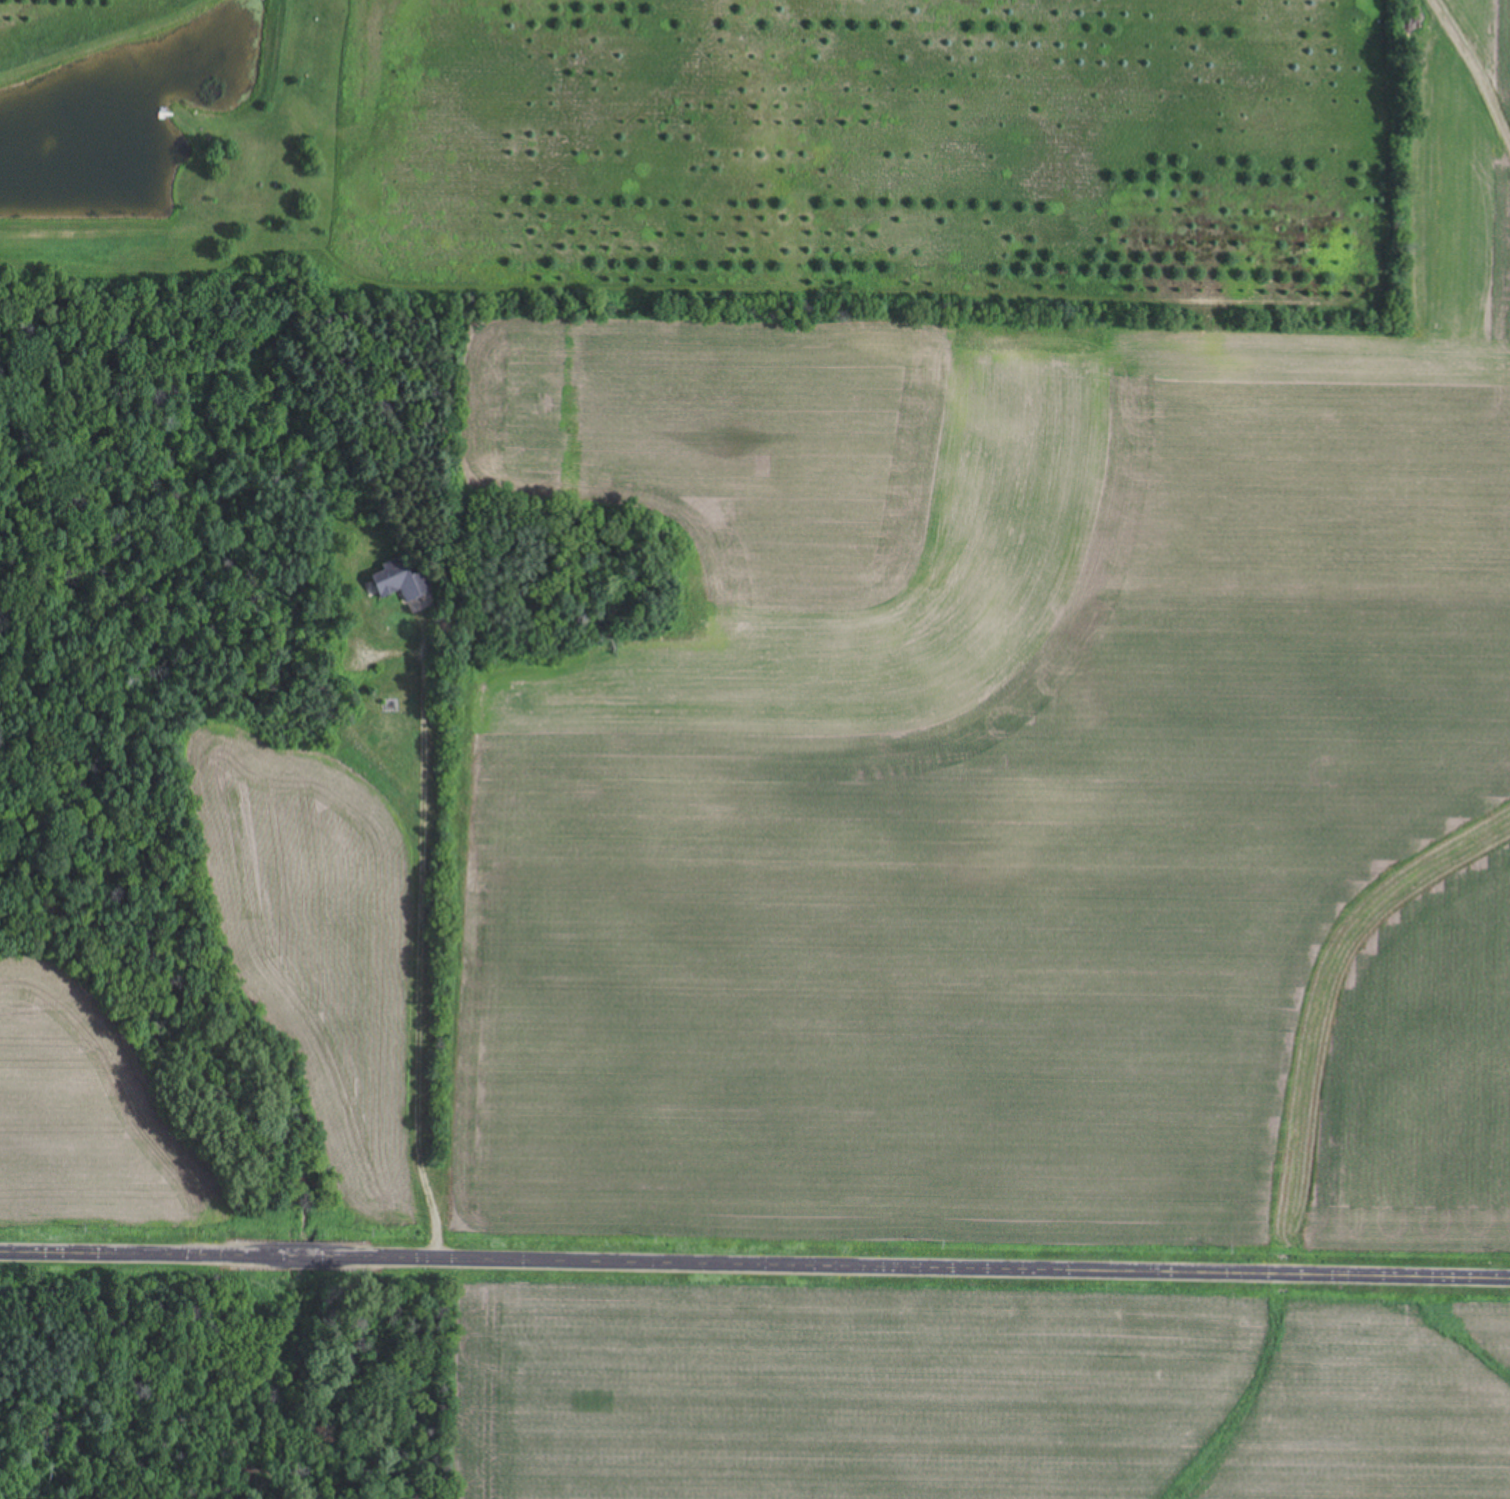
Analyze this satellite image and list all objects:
building: (401, 582)
road: (755, 1270)

